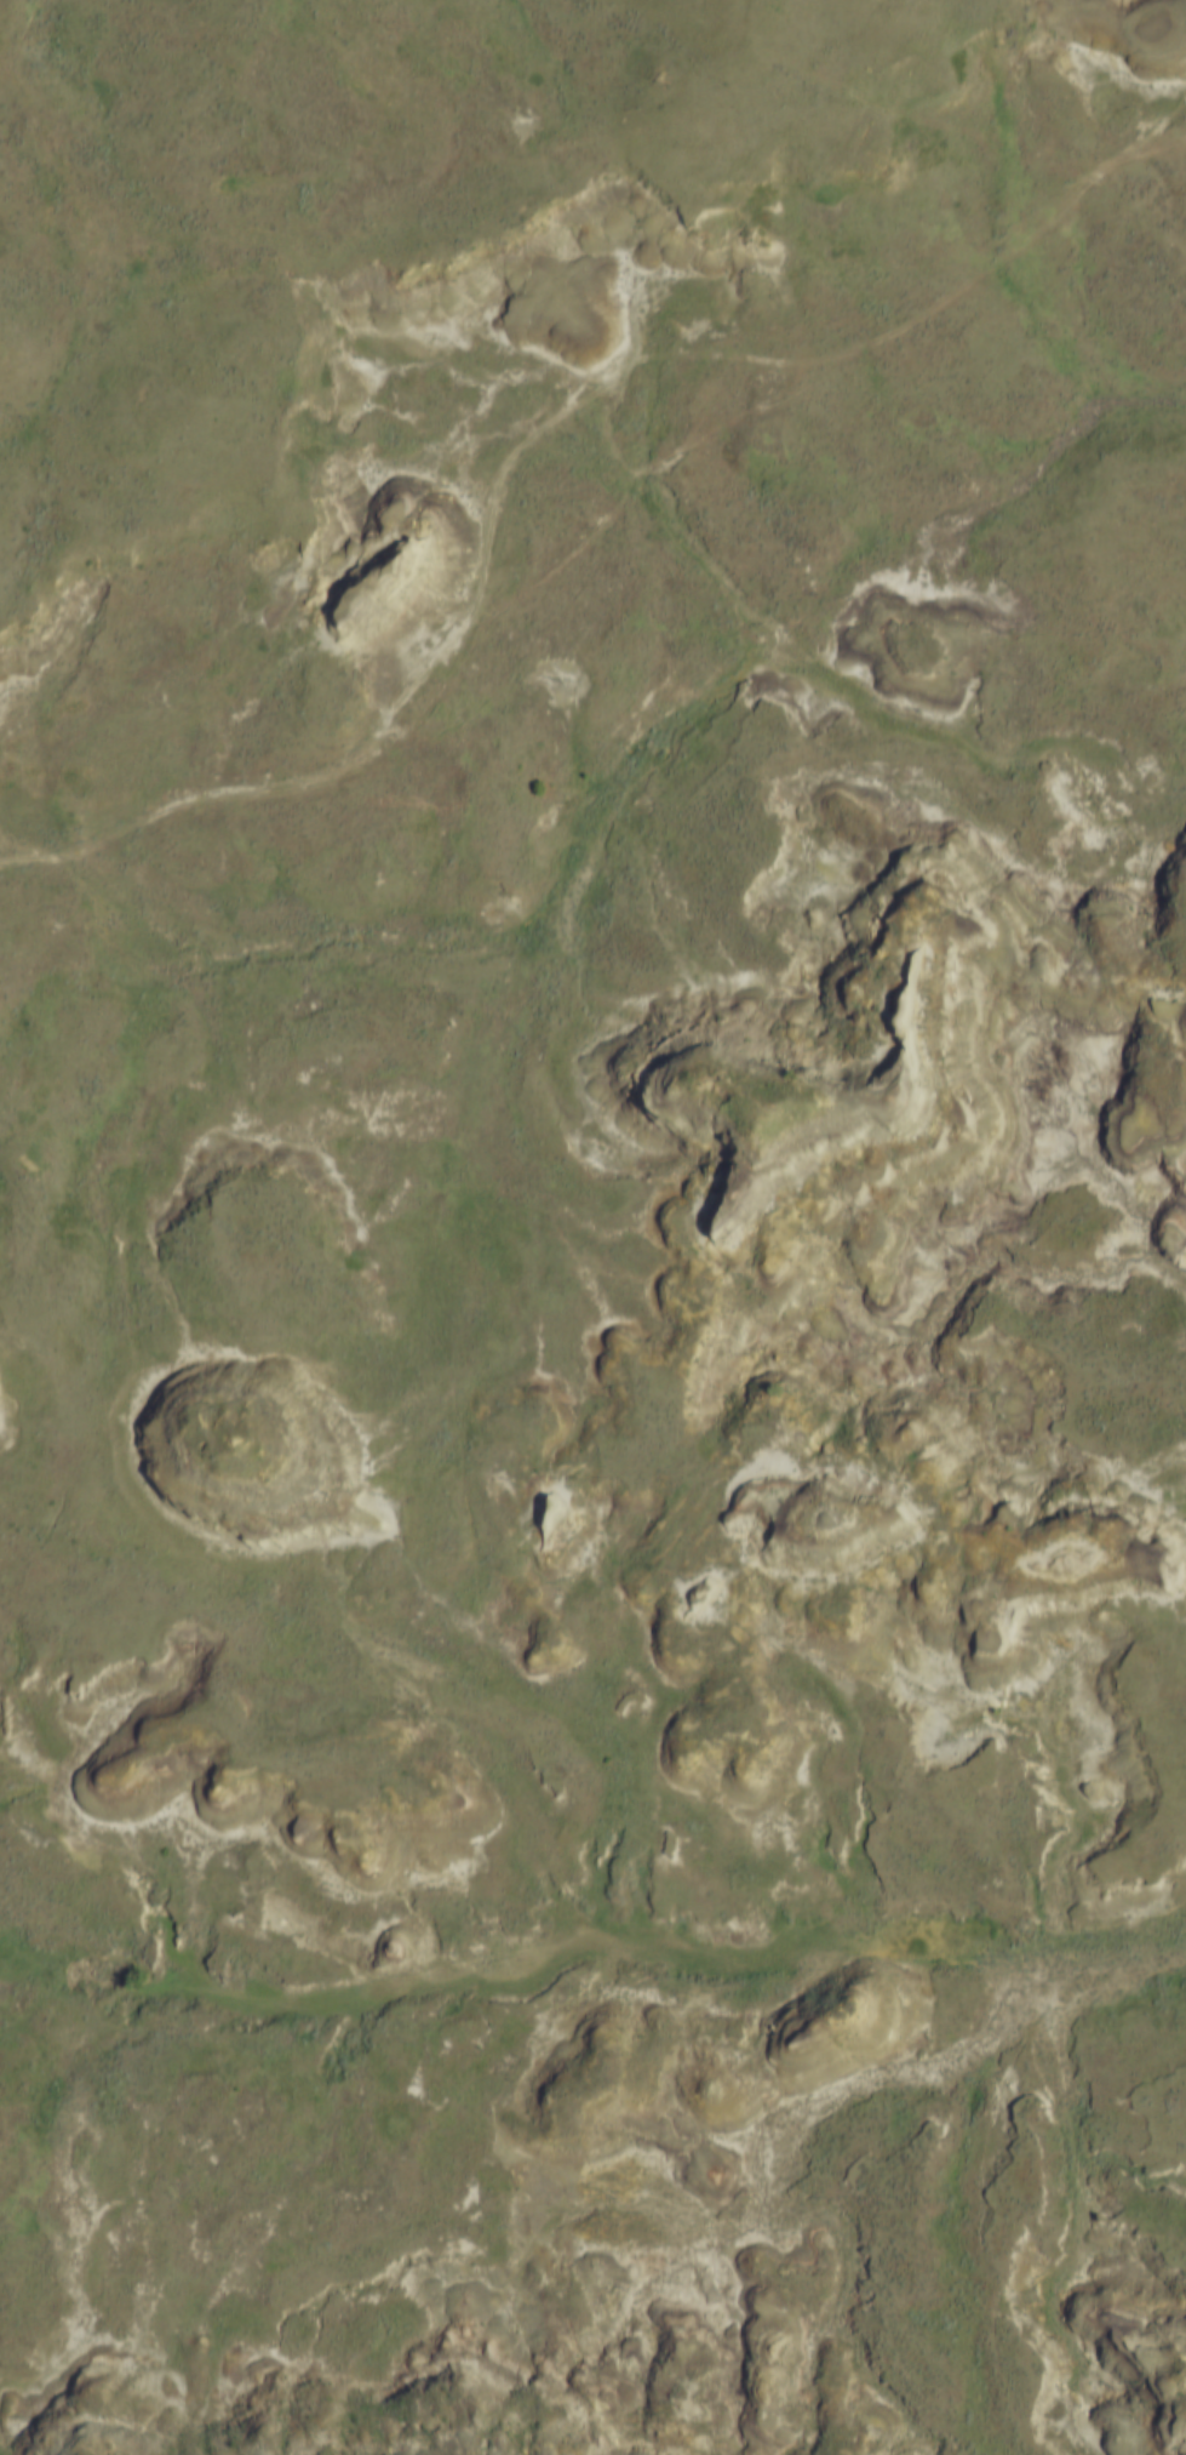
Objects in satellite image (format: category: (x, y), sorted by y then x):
road: (563, 498)

